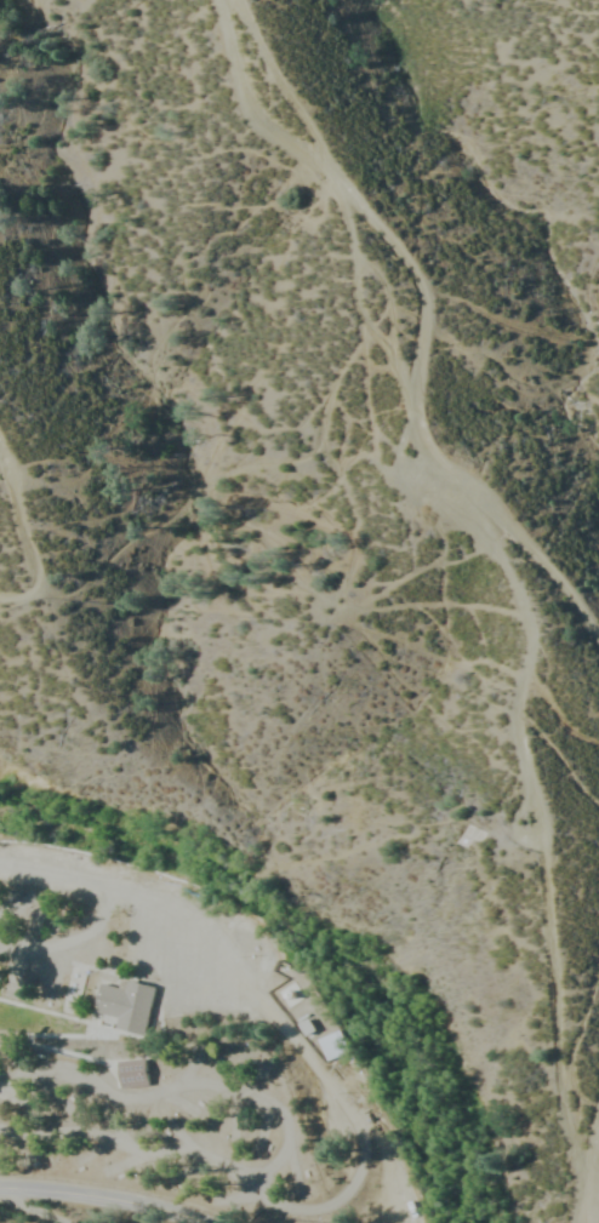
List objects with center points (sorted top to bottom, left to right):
road: (520, 532)
road: (481, 552)
building: (477, 839)
road: (240, 982)
building: (129, 1006)
building: (330, 1047)
building: (136, 1075)
road: (190, 1091)
building: (262, 1135)
road: (588, 1150)
road: (173, 1165)
road: (103, 1198)
road: (576, 1202)

